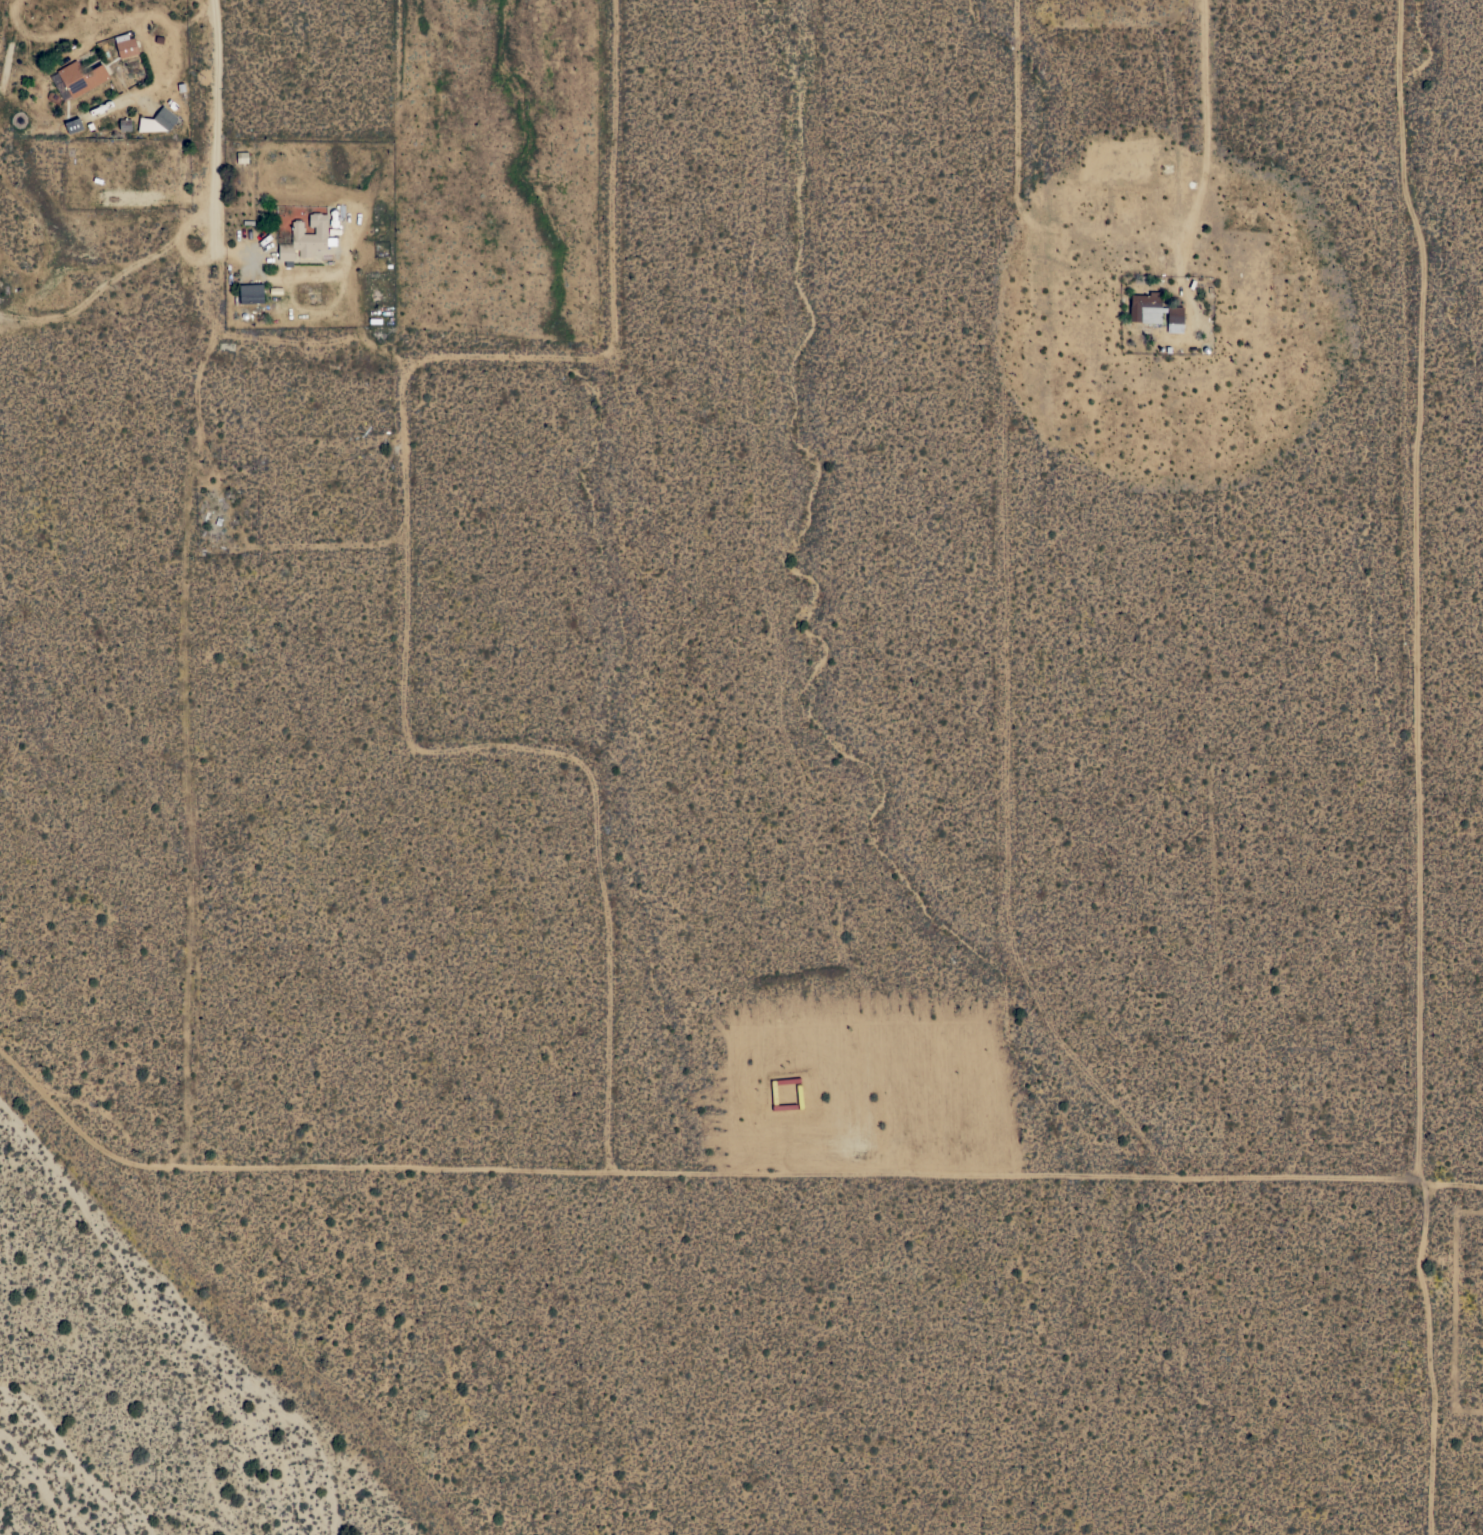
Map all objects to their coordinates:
road: (28, 36)
building: (126, 45)
building: (81, 78)
building: (158, 121)
building: (73, 125)
road: (1212, 132)
building: (242, 157)
building: (138, 192)
building: (305, 238)
road: (308, 277)
building: (250, 293)
building: (1154, 311)
road: (418, 361)
road: (406, 545)
road: (1423, 767)
road: (1455, 1184)

